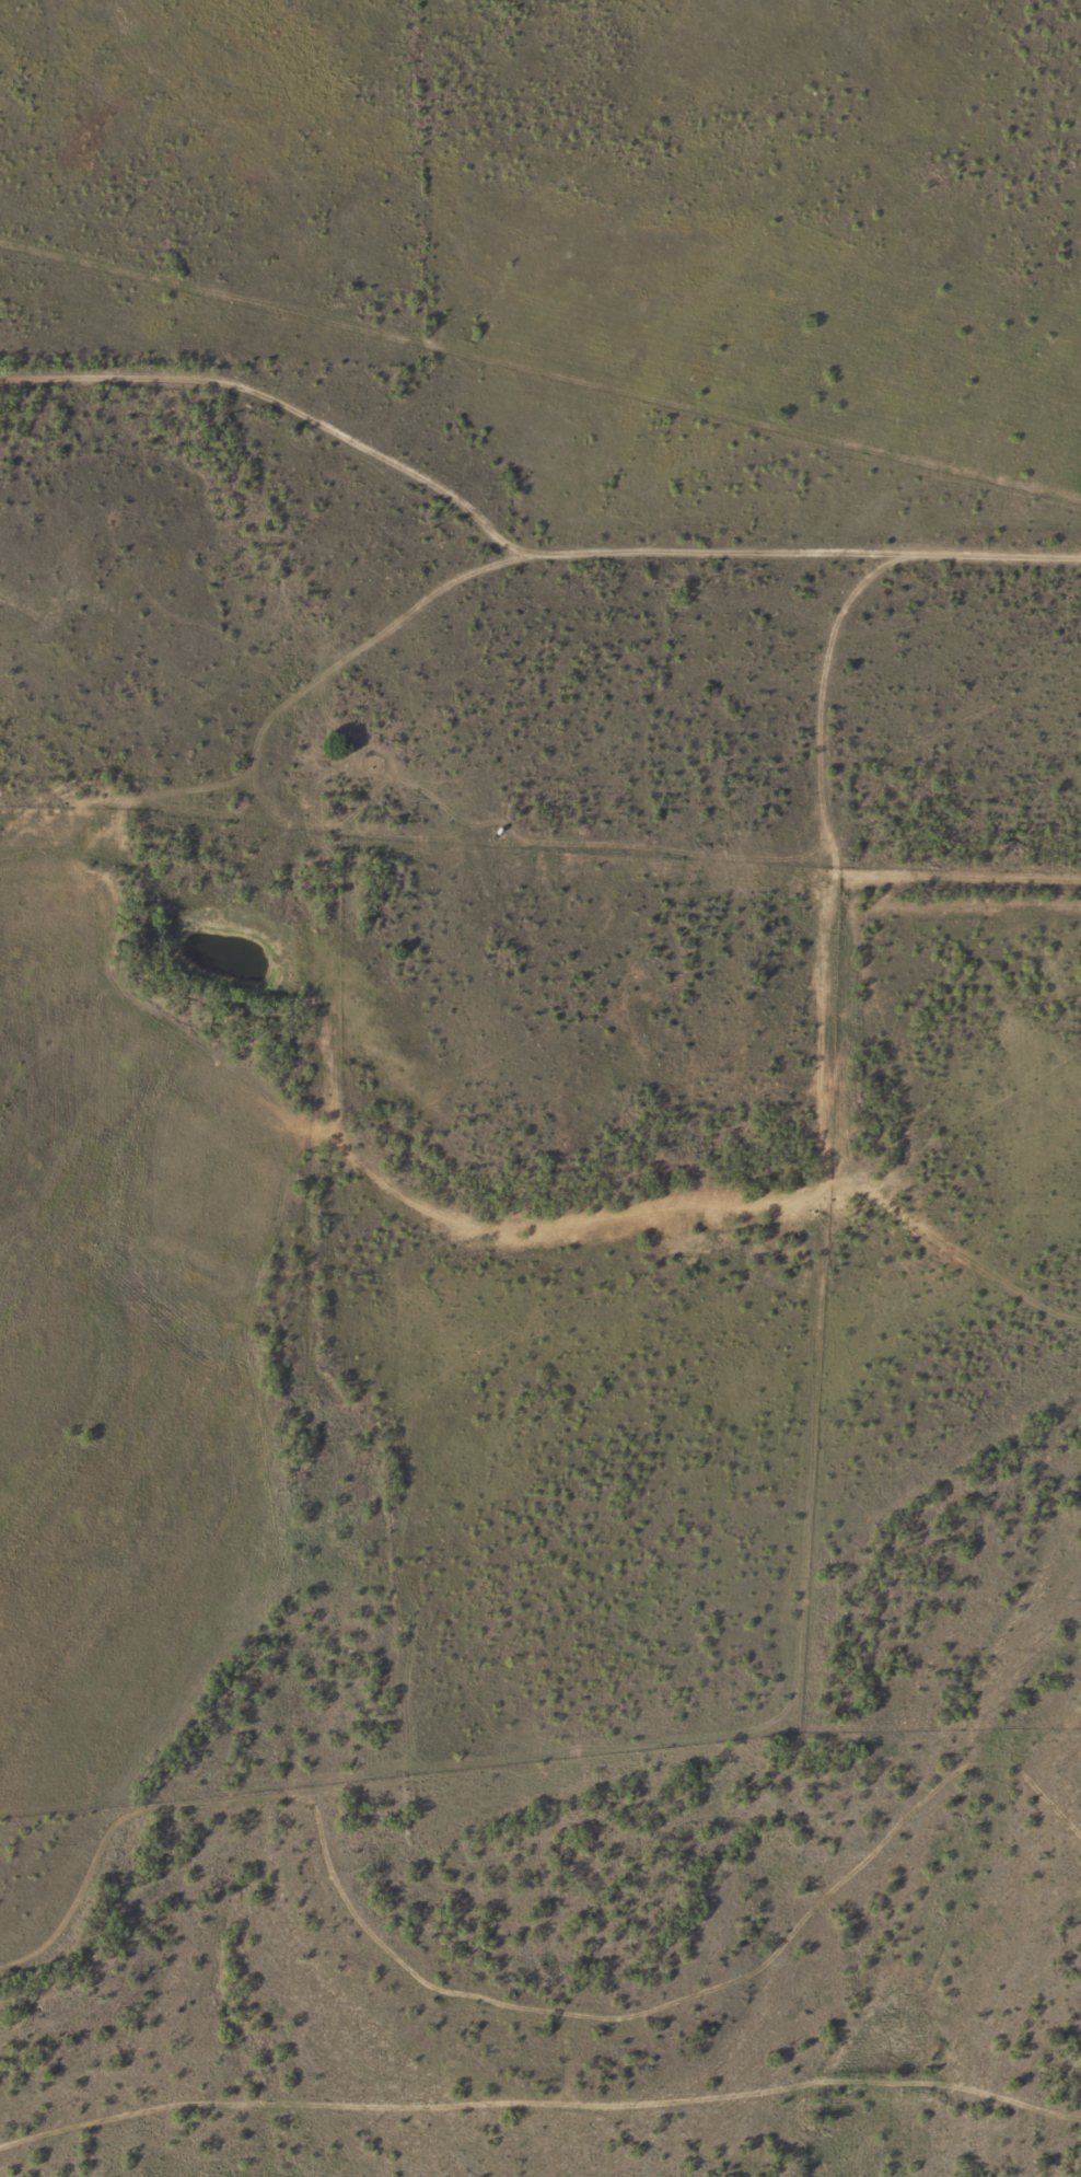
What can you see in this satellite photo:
road: (585, 574)

